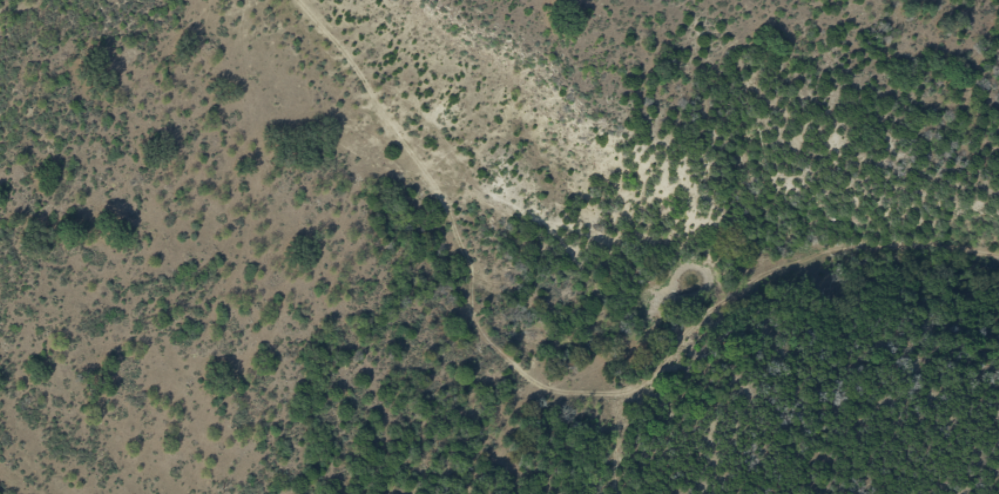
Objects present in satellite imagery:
road: (611, 344)

